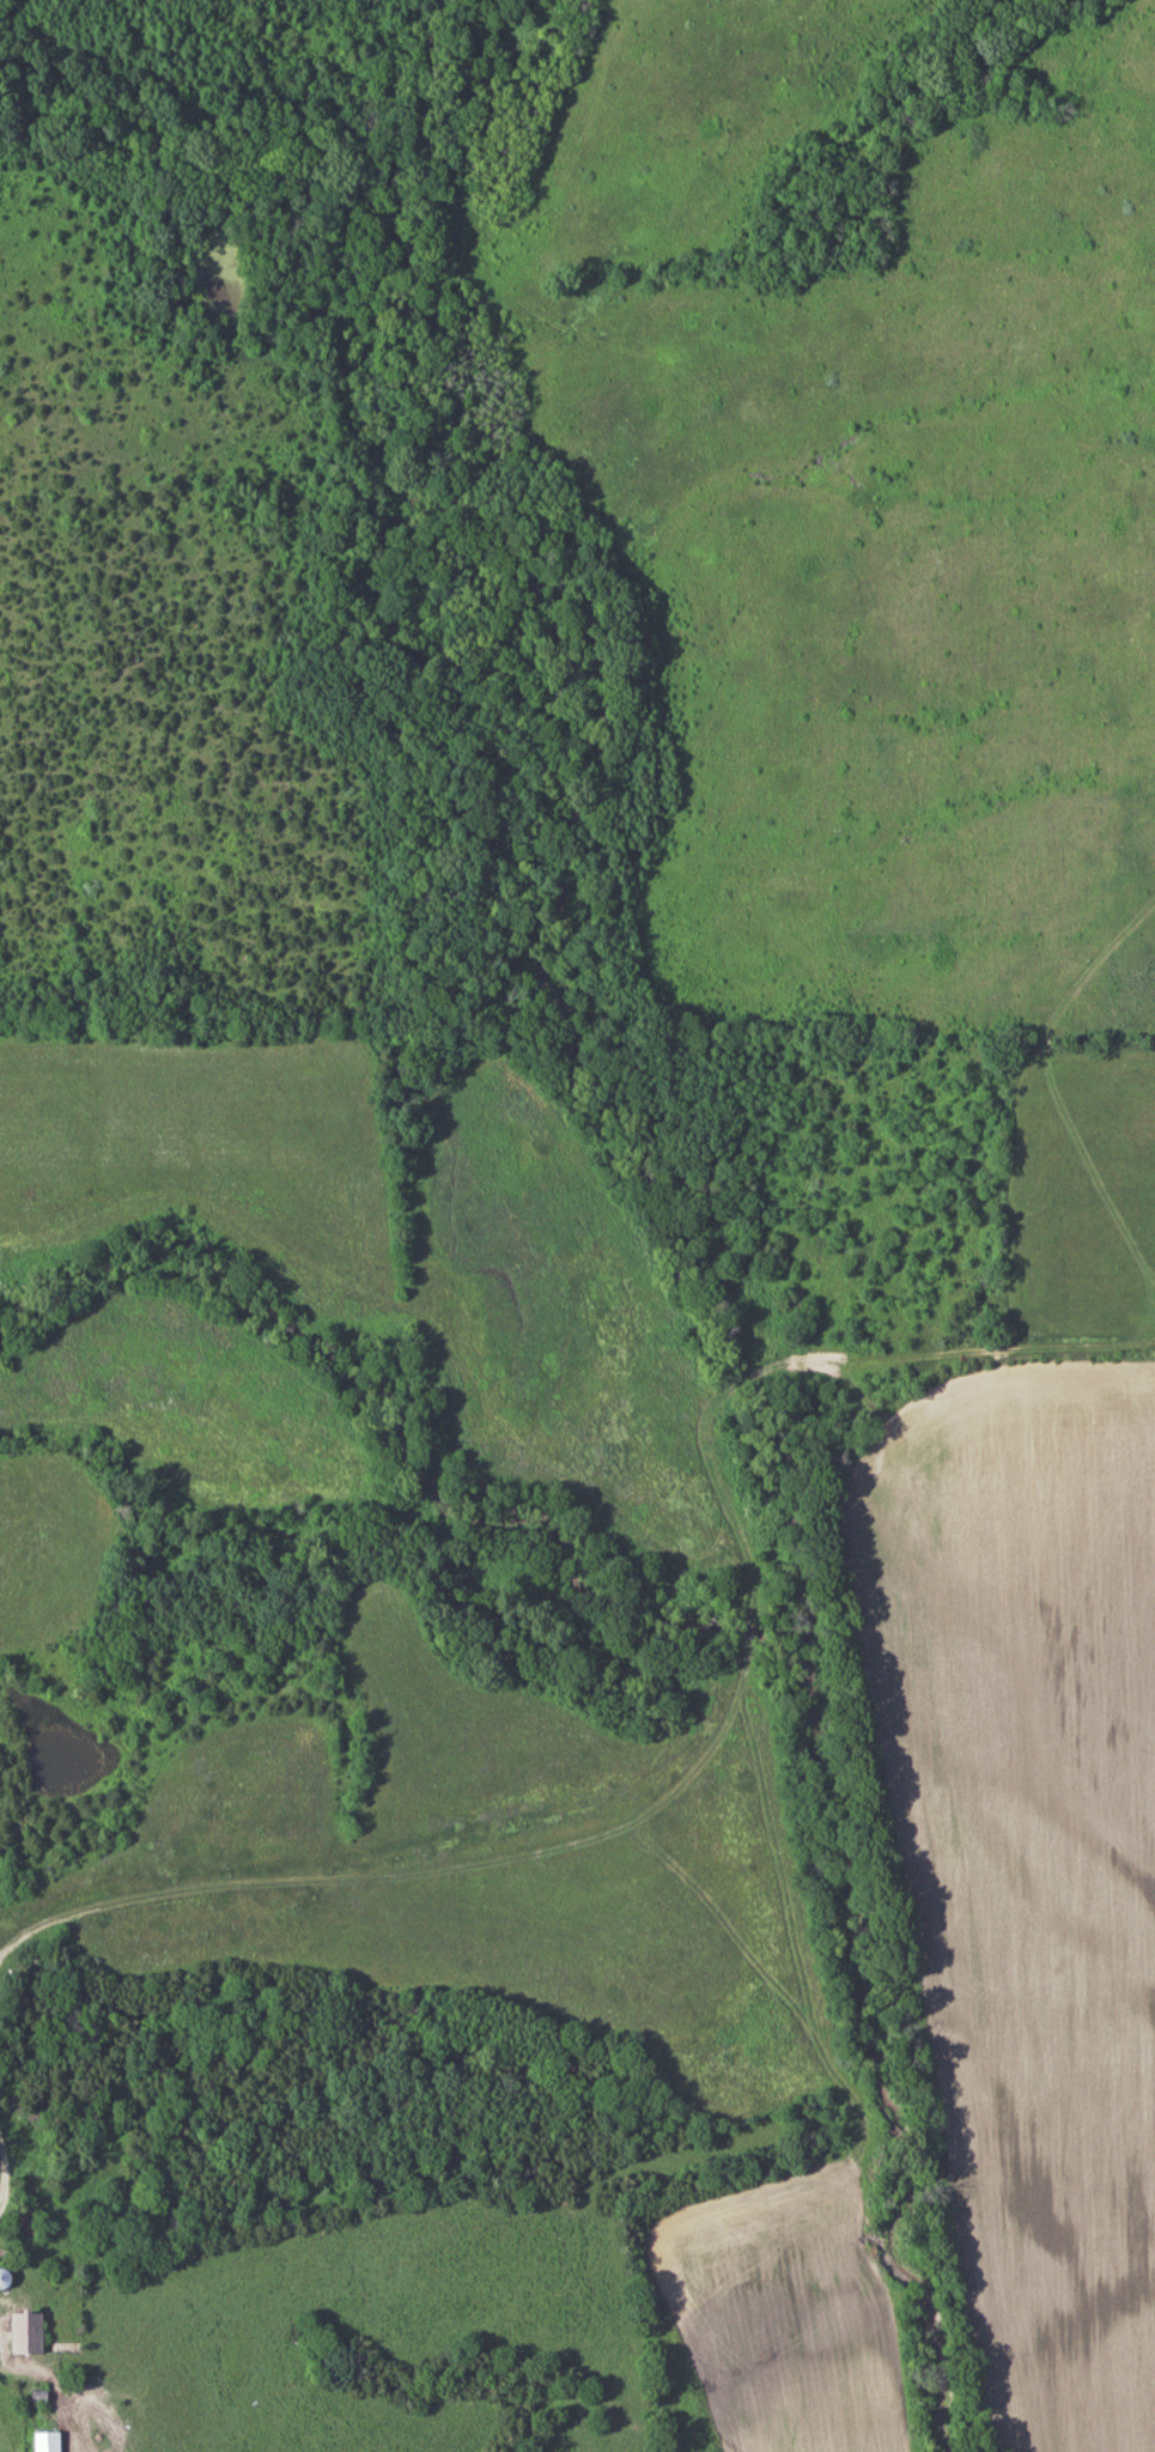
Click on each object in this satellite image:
building: (6, 2278)
building: (30, 2331)
building: (50, 2441)

